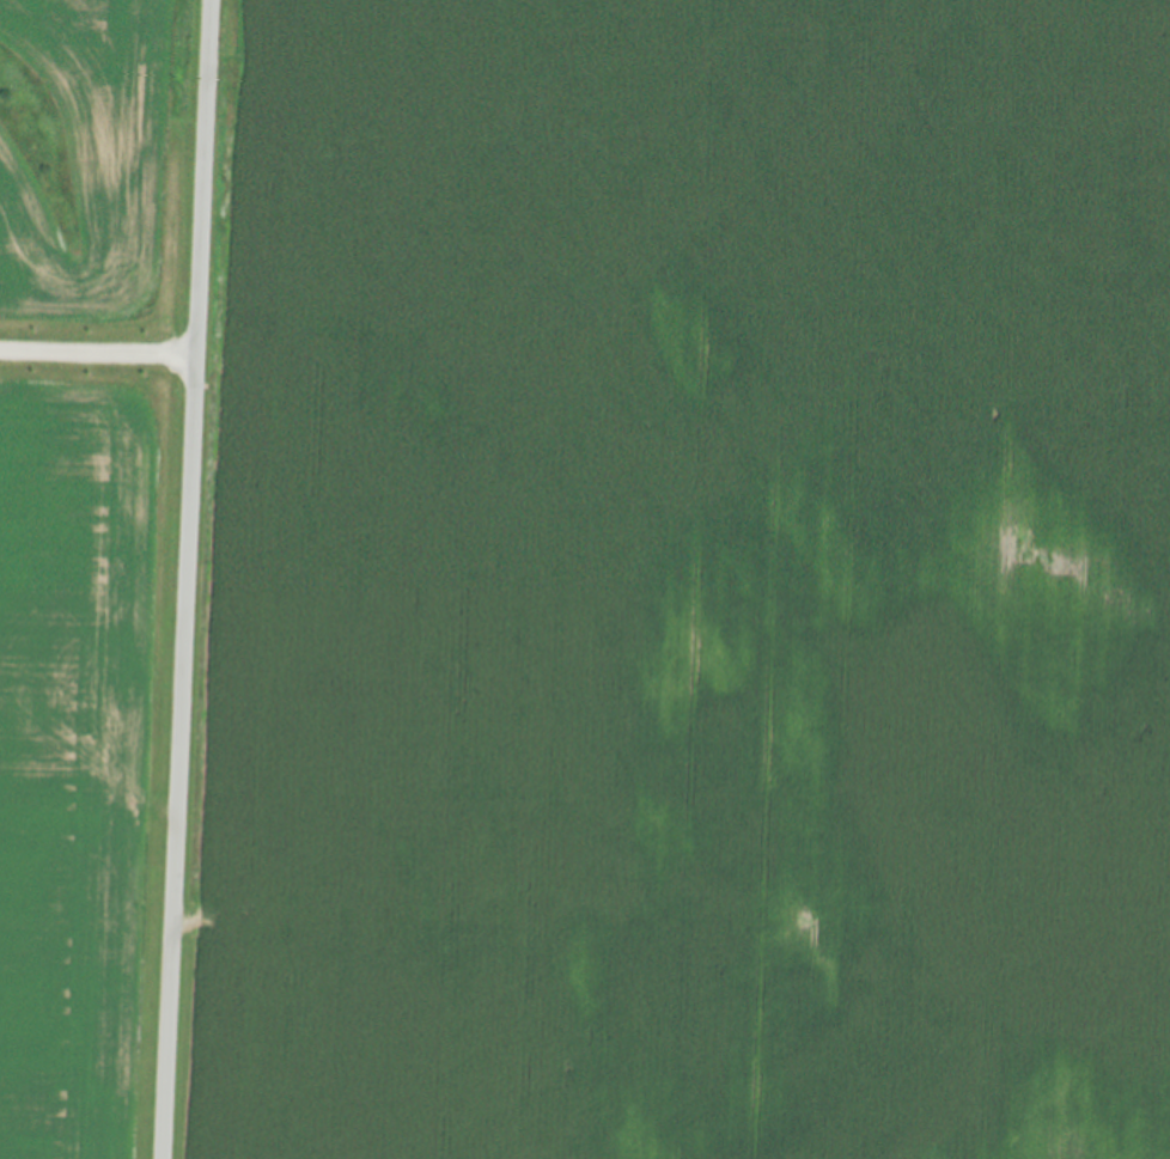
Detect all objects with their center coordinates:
road: (98, 353)
road: (185, 579)

